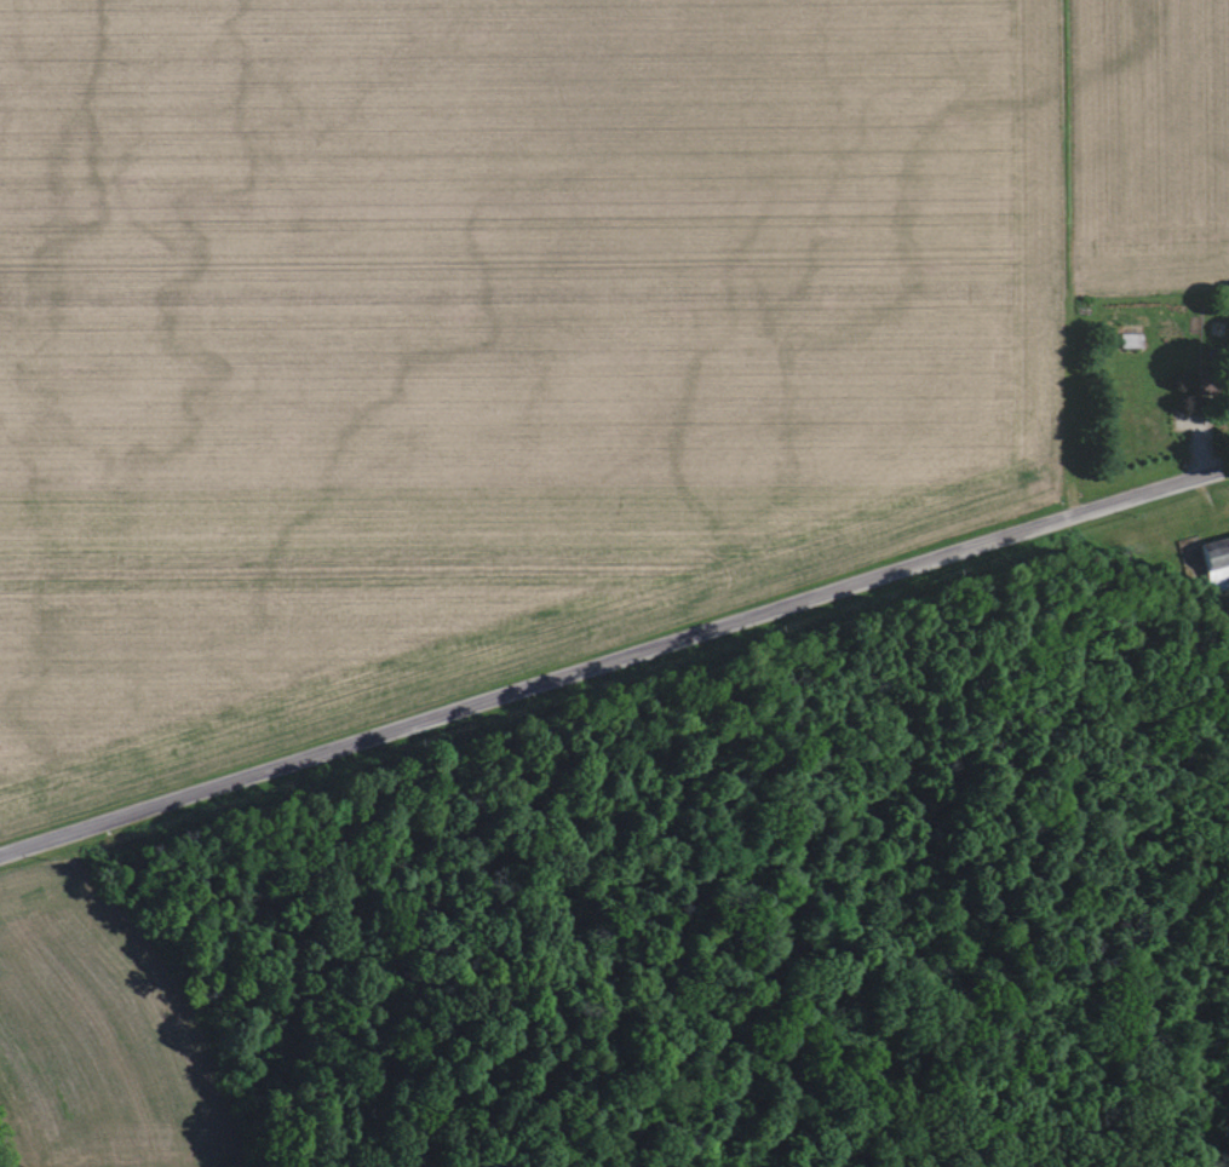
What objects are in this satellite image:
building: (1130, 340)
building: (1205, 384)
building: (1217, 562)
road: (613, 653)

